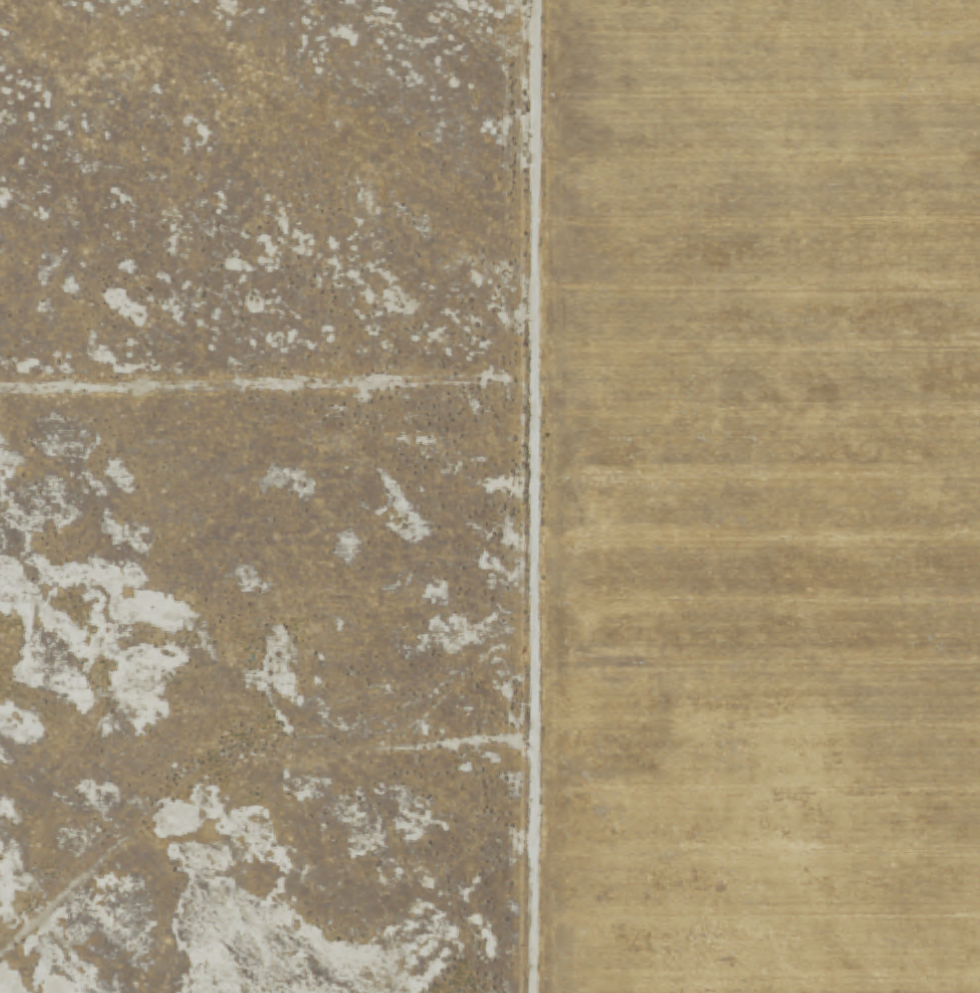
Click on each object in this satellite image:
road: (532, 496)
crop: (759, 497)

